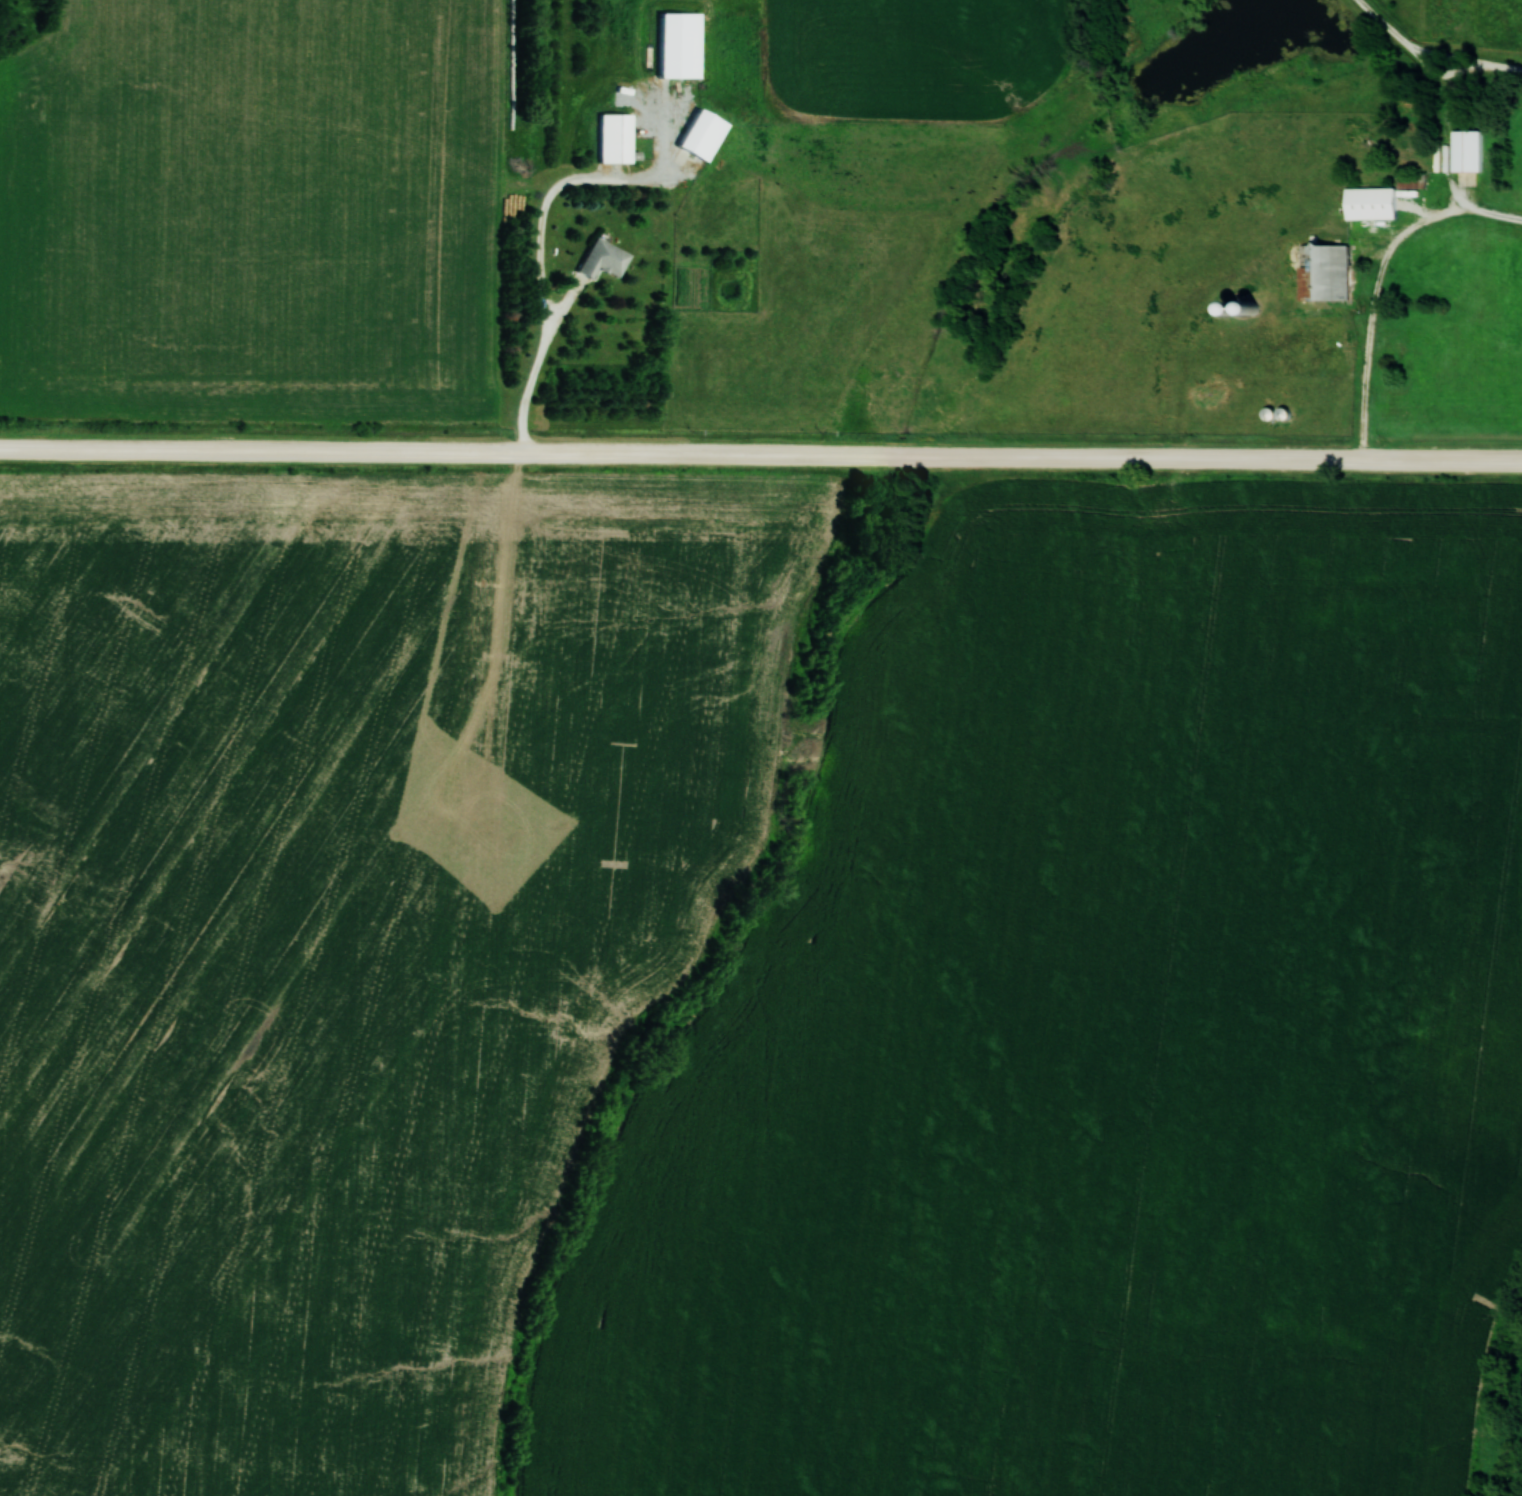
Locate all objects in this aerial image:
road: (1443, 120)
building: (697, 136)
building: (610, 139)
building: (1464, 151)
building: (1368, 203)
road: (542, 230)
building: (599, 259)
building: (1320, 275)
road: (1371, 307)
building: (1242, 311)
road: (761, 454)

